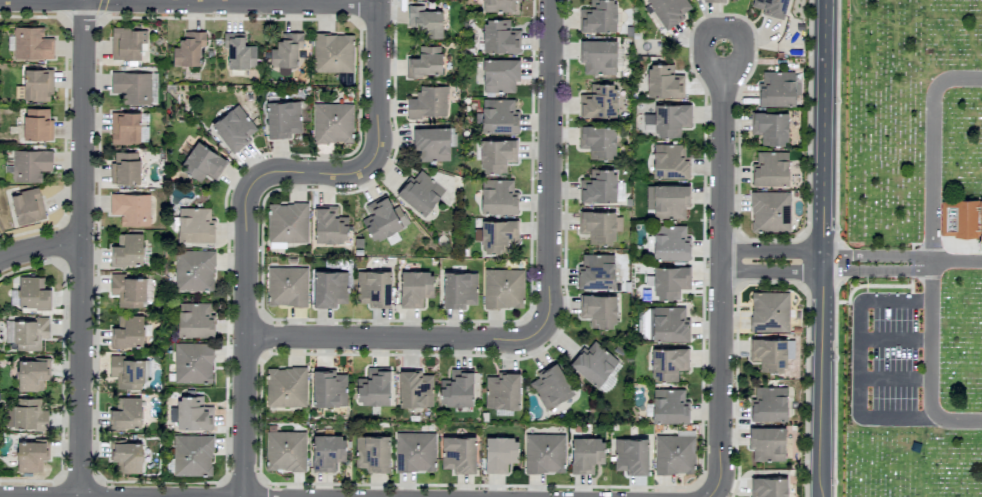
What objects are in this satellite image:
building: (721, 0)
road: (90, 1)
road: (190, 2)
building: (498, 6)
building: (771, 7)
building: (669, 10)
building: (598, 16)
building: (425, 21)
building: (499, 36)
building: (127, 43)
building: (31, 44)
road: (703, 48)
road: (740, 48)
building: (189, 49)
building: (238, 51)
building: (286, 52)
building: (333, 53)
building: (598, 56)
building: (424, 62)
building: (500, 75)
building: (663, 81)
building: (37, 84)
building: (132, 86)
building: (153, 88)
building: (776, 89)
building: (598, 101)
building: (428, 102)
building: (498, 116)
building: (283, 119)
building: (667, 120)
building: (332, 122)
building: (37, 124)
building: (770, 127)
building: (125, 128)
building: (234, 128)
building: (597, 141)
building: (431, 144)
road: (930, 150)
building: (496, 155)
building: (669, 161)
building: (202, 162)
building: (30, 164)
building: (125, 168)
road: (552, 168)
building: (770, 168)
building: (598, 186)
building: (420, 192)
road: (250, 195)
building: (497, 196)
building: (670, 201)
building: (27, 206)
building: (131, 208)
building: (770, 212)
building: (961, 218)
building: (287, 222)
building: (194, 224)
building: (599, 225)
building: (329, 226)
building: (495, 235)
building: (670, 242)
road: (825, 248)
road: (83, 249)
park: (914, 249)
road: (41, 250)
building: (127, 251)
road: (775, 261)
road: (955, 261)
road: (877, 262)
building: (194, 270)
building: (596, 271)
building: (668, 281)
road: (724, 283)
building: (287, 286)
building: (329, 288)
building: (373, 288)
building: (415, 288)
building: (503, 288)
building: (459, 289)
building: (127, 290)
building: (32, 292)
building: (598, 310)
building: (769, 312)
building: (194, 319)
building: (668, 324)
building: (26, 333)
building: (127, 333)
road: (396, 339)
road: (894, 339)
building: (771, 353)
road: (857, 359)
building: (192, 362)
building: (593, 363)
building: (668, 363)
road: (930, 367)
building: (128, 371)
building: (31, 374)
road: (893, 379)
building: (550, 386)
building: (286, 387)
building: (373, 387)
building: (328, 389)
building: (415, 389)
building: (456, 389)
building: (502, 390)
building: (769, 404)
building: (669, 405)
building: (192, 413)
building: (29, 414)
building: (126, 414)
building: (767, 443)
building: (285, 451)
building: (414, 451)
building: (327, 452)
building: (372, 453)
building: (499, 453)
building: (544, 453)
building: (458, 454)
building: (586, 454)
building: (674, 454)
building: (30, 455)
building: (192, 455)
building: (631, 455)
building: (126, 456)
building: (768, 487)

